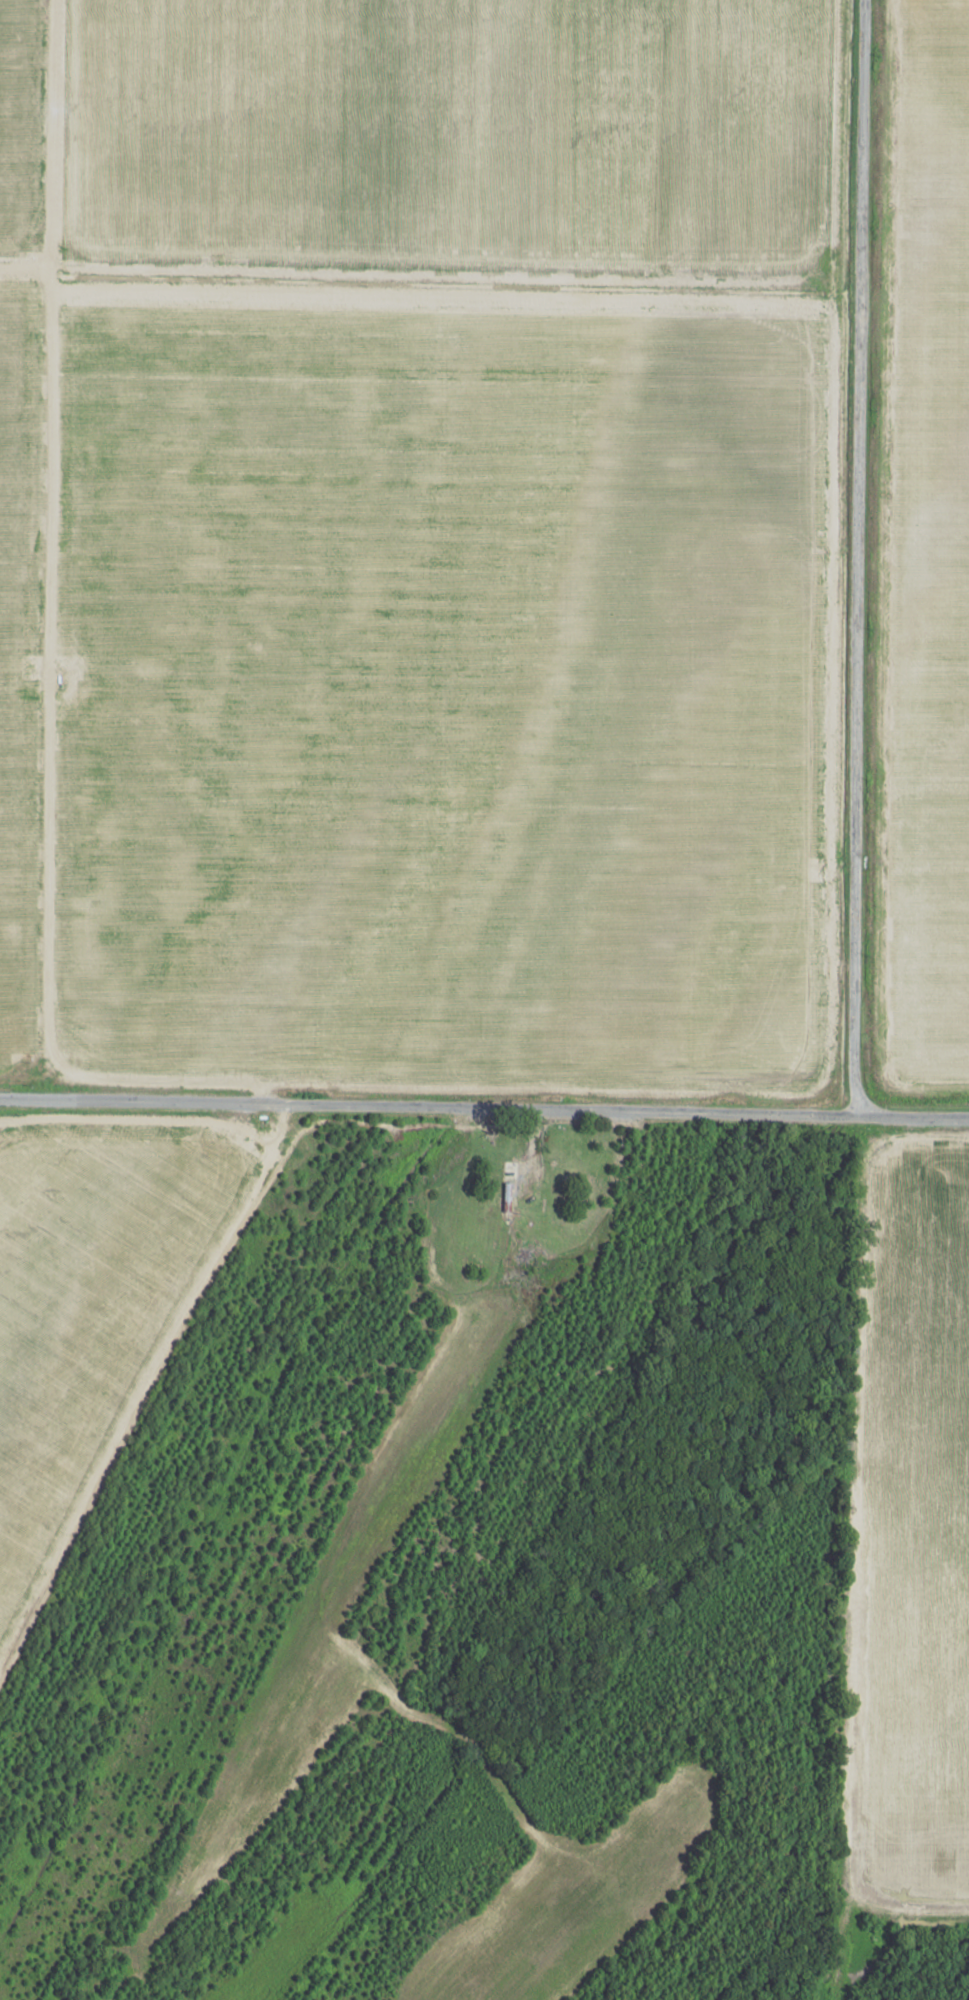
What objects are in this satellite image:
road: (853, 559)
road: (484, 1110)

